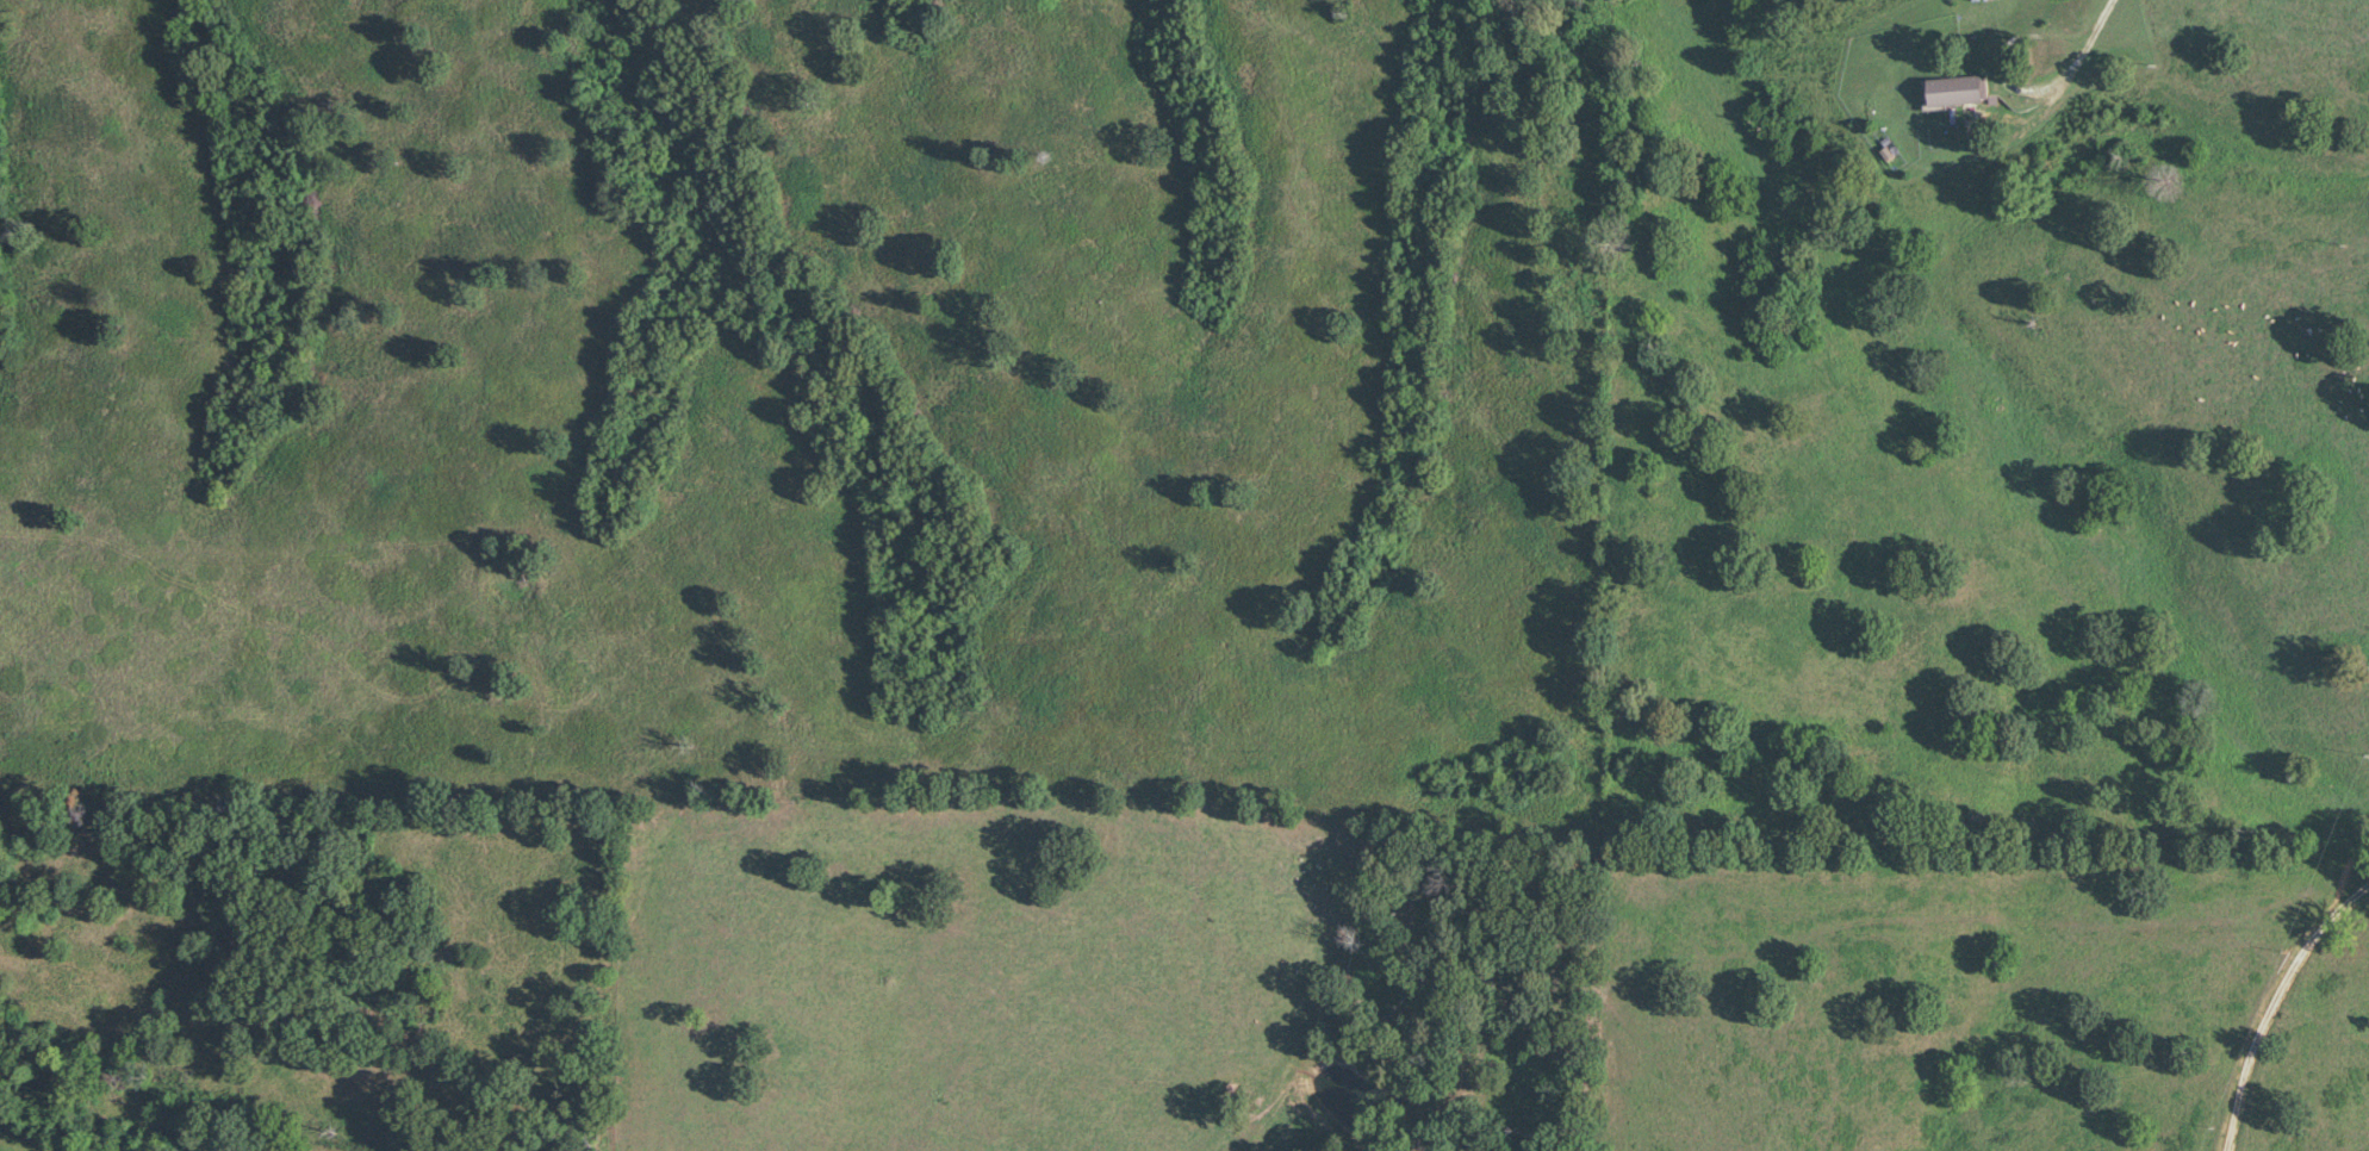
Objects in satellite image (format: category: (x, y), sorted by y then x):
building: (1948, 92)
building: (2356, 1029)

